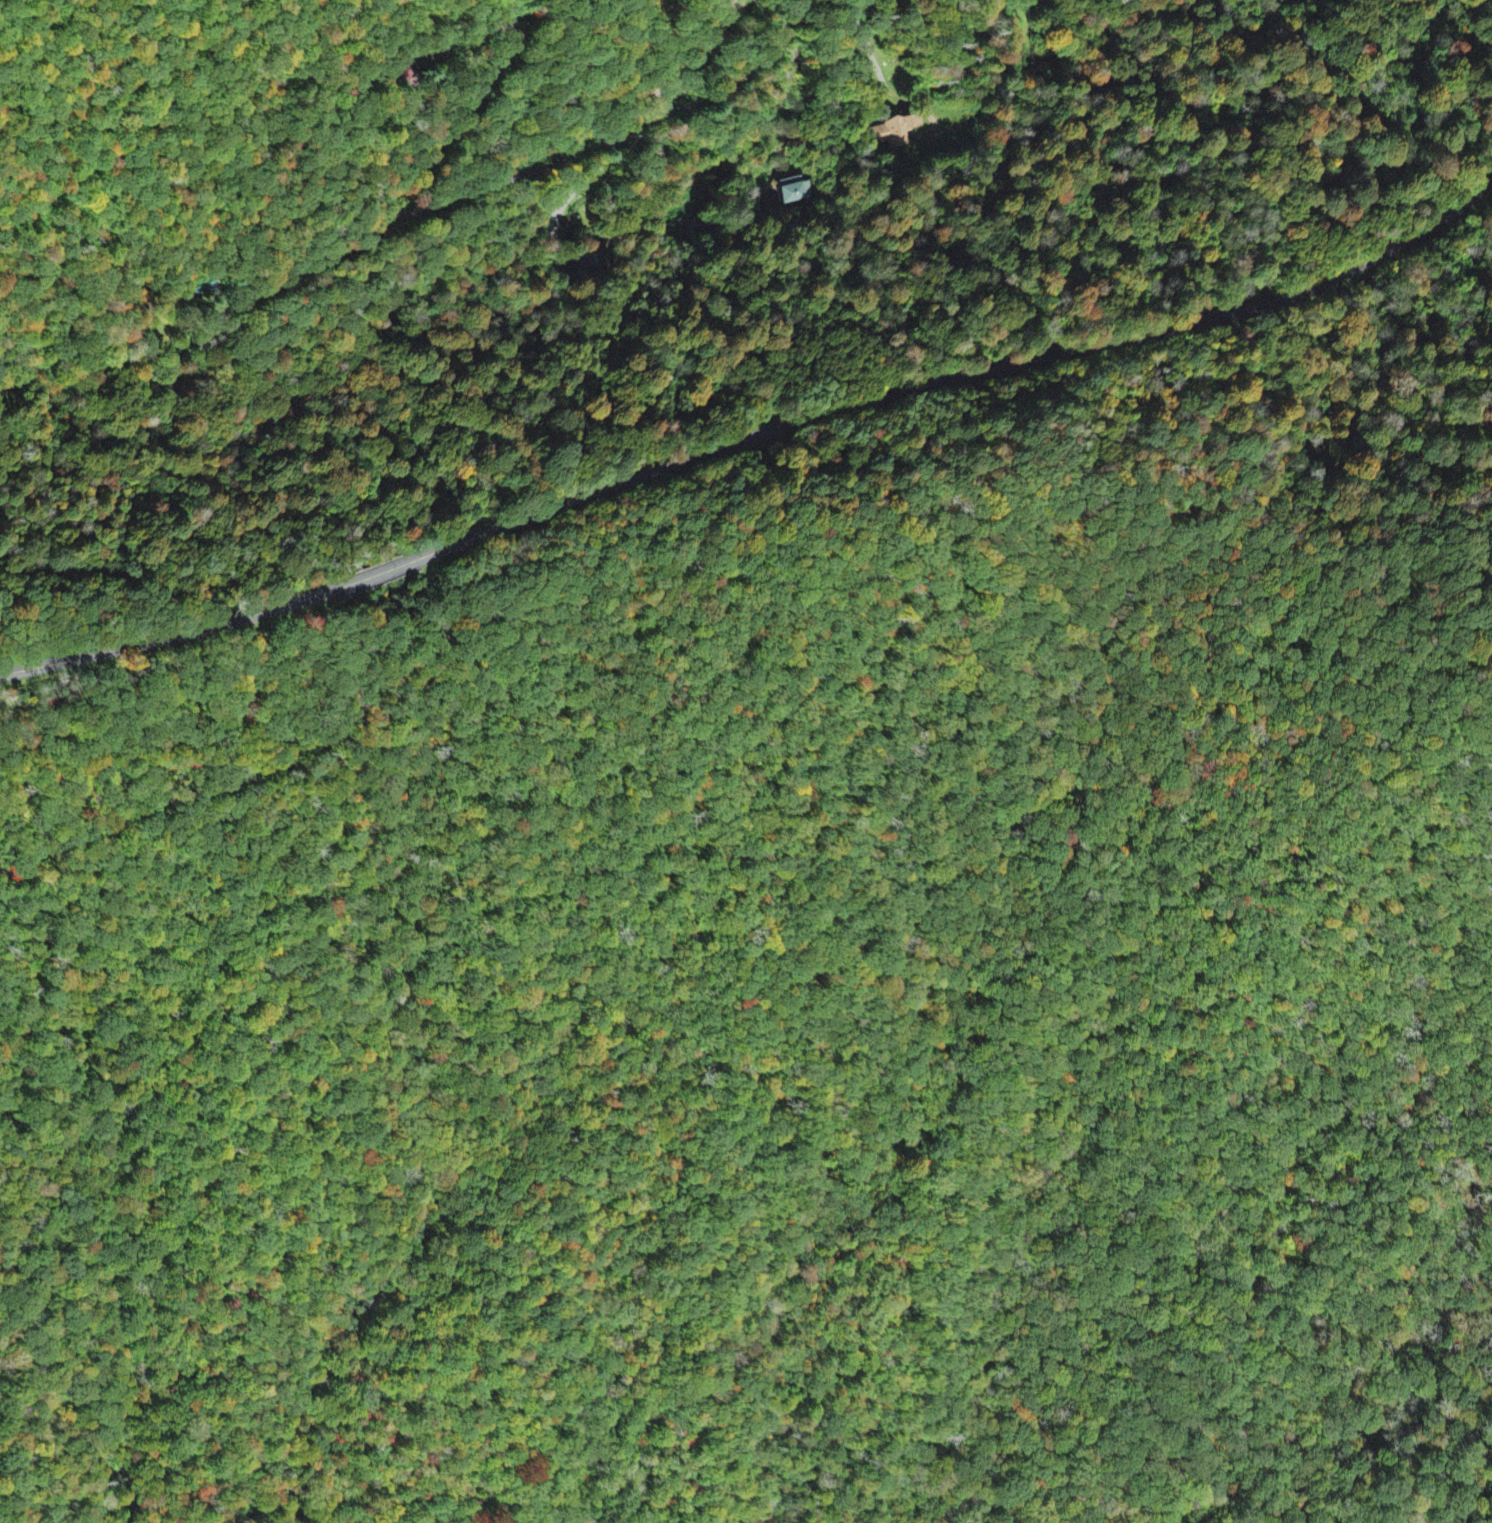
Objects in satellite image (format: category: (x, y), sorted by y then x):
road: (454, 118)
building: (896, 133)
road: (613, 135)
building: (791, 194)
road: (951, 381)
road: (234, 563)
road: (376, 574)
road: (177, 634)
road: (1034, 640)
road: (213, 785)

